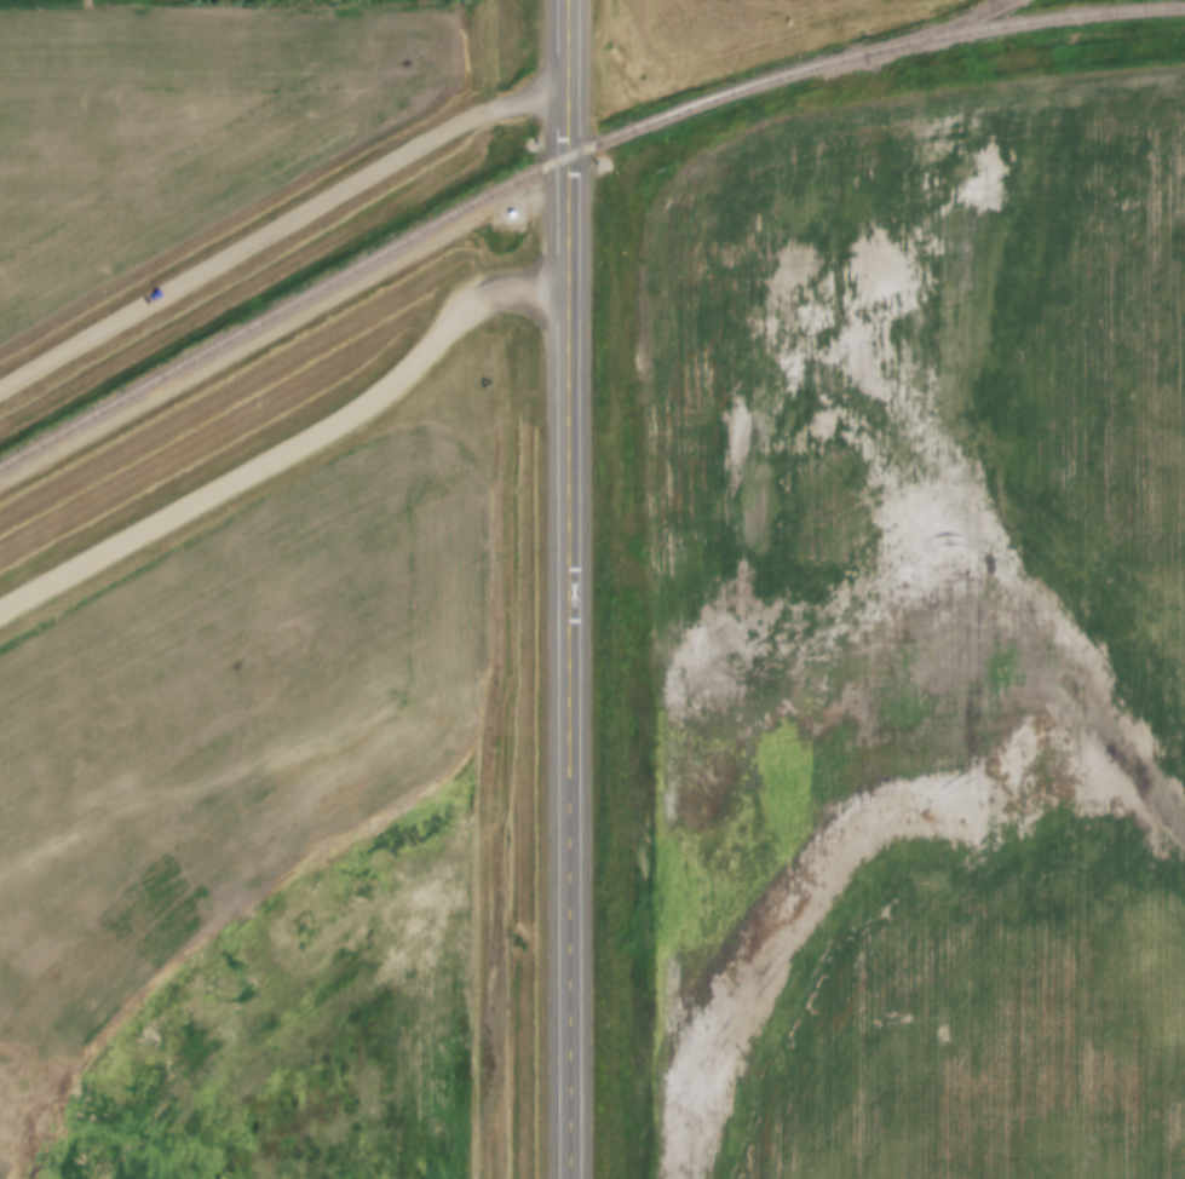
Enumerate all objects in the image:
railway: (937, 30)
railway: (564, 160)
road: (293, 229)
road: (585, 589)

